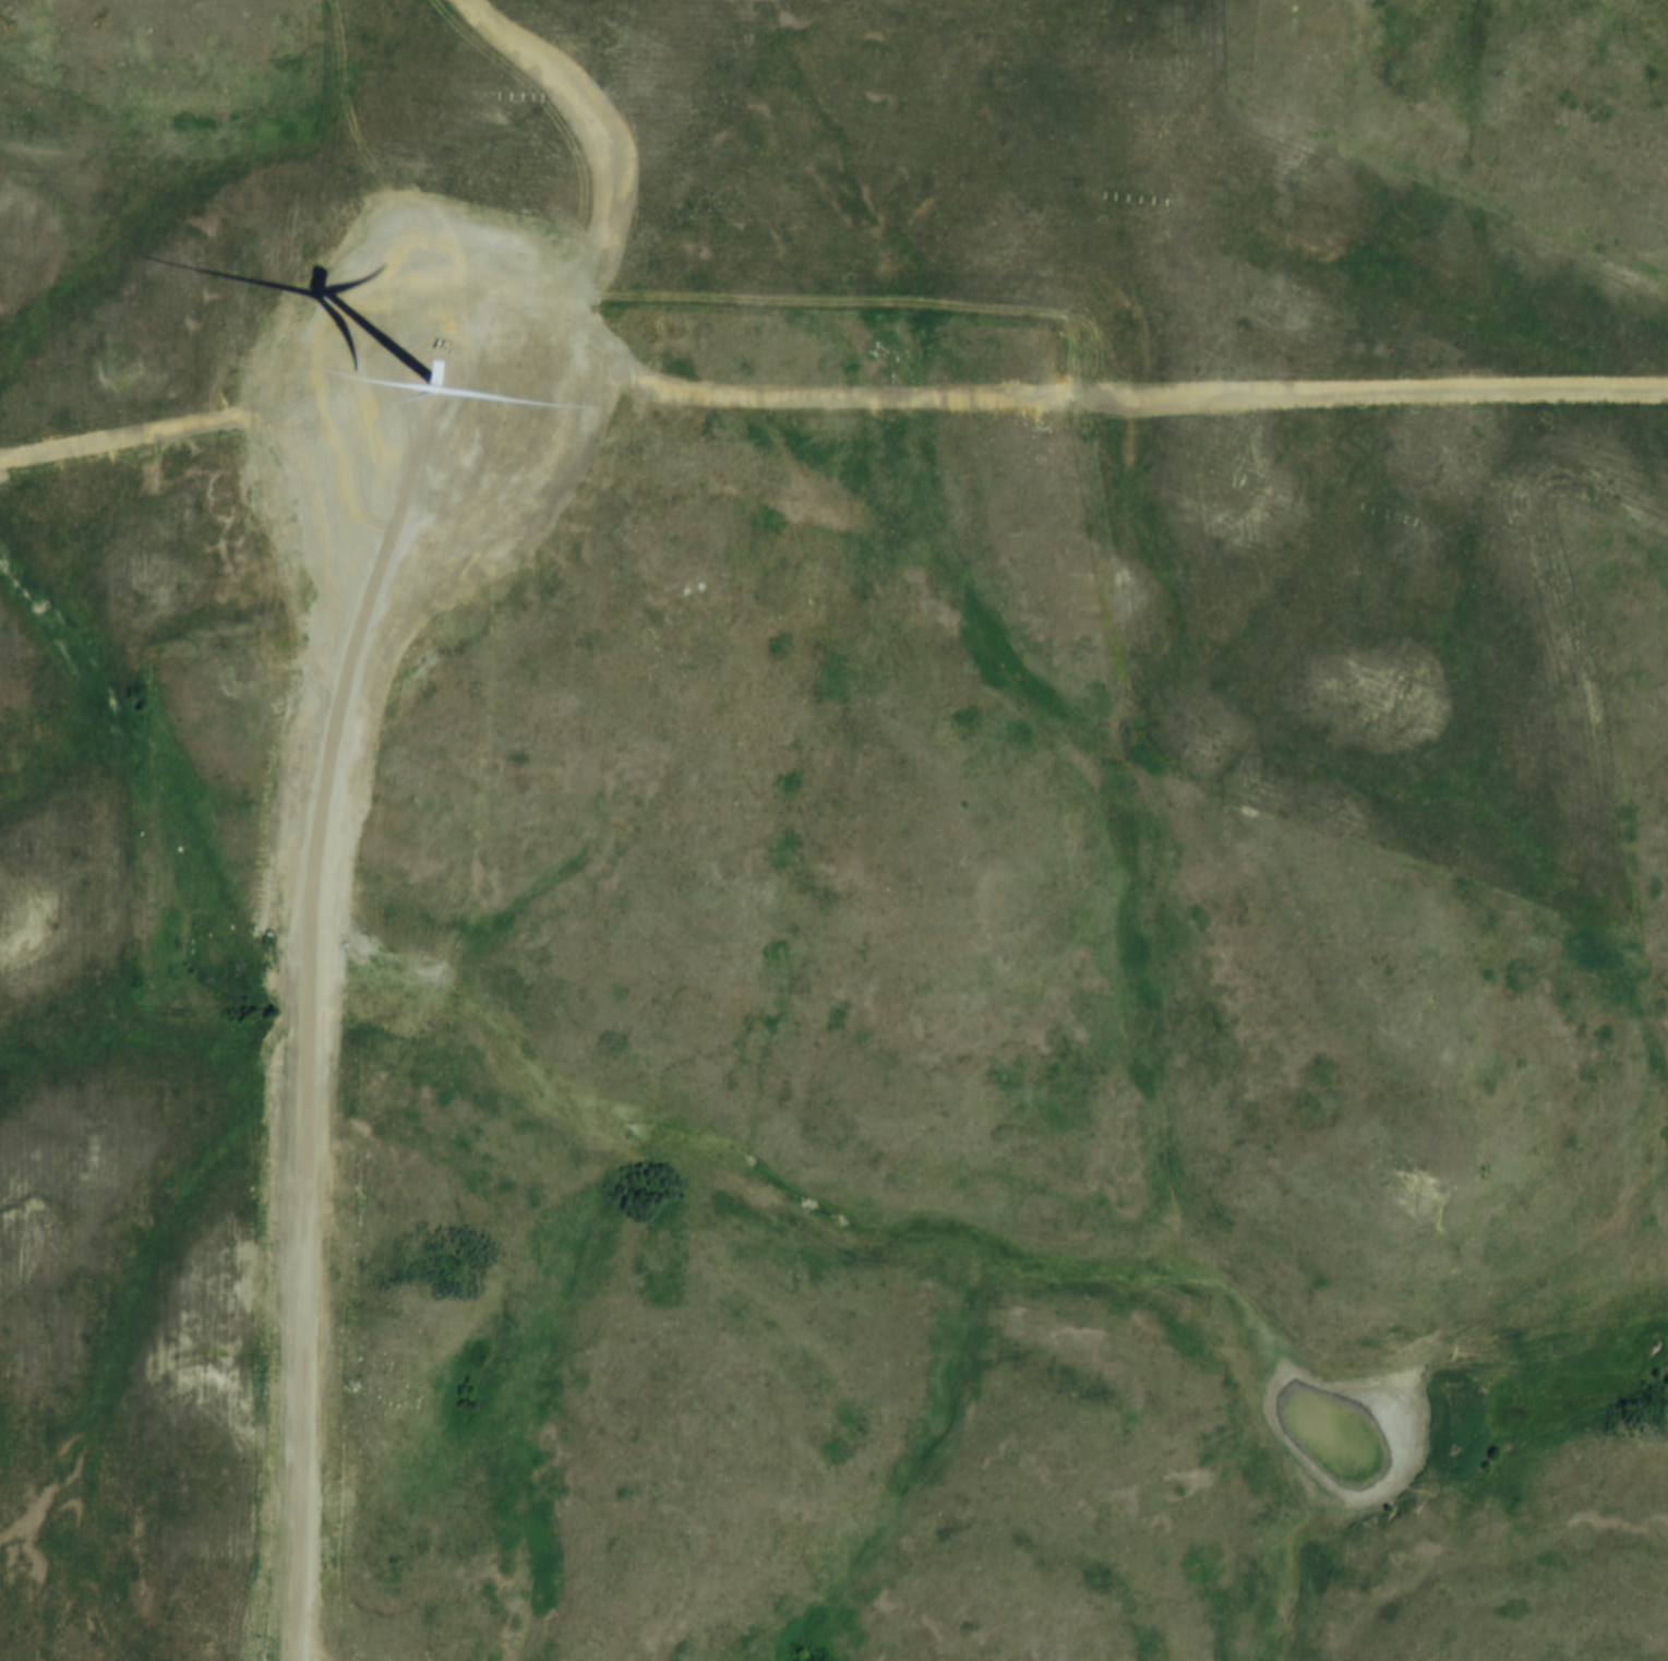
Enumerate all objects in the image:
wind turbine: (423, 370)
road: (833, 439)
road: (311, 1048)

